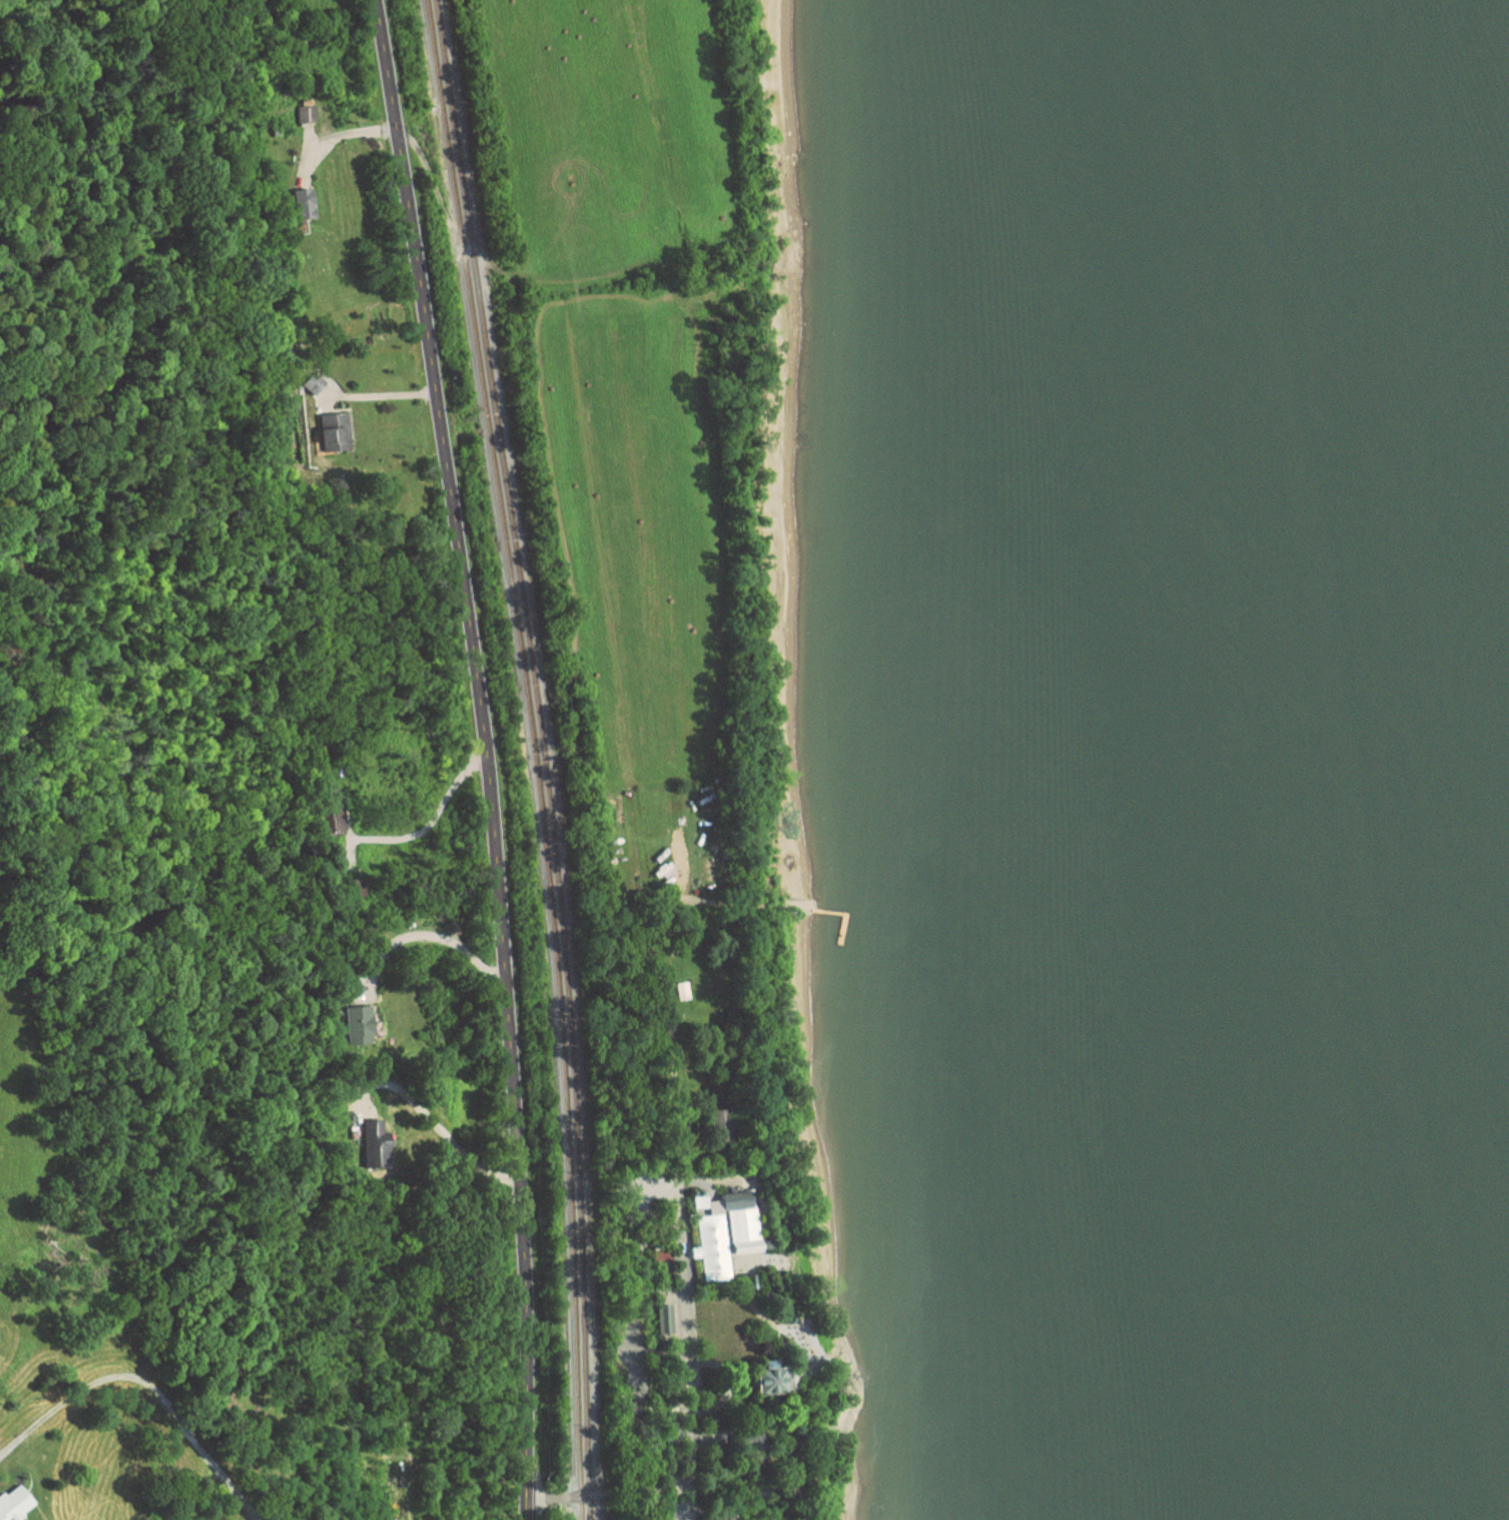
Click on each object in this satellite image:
road: (336, 134)
road: (441, 215)
road: (381, 385)
crop: (654, 406)
road: (485, 756)
railway: (534, 757)
railway: (542, 757)
river: (1327, 760)
road: (429, 817)
road: (431, 935)
road: (662, 972)
building: (725, 1128)
road: (432, 1137)
building: (743, 1223)
building: (776, 1380)
road: (146, 1382)
road: (692, 1413)
road: (734, 1492)

